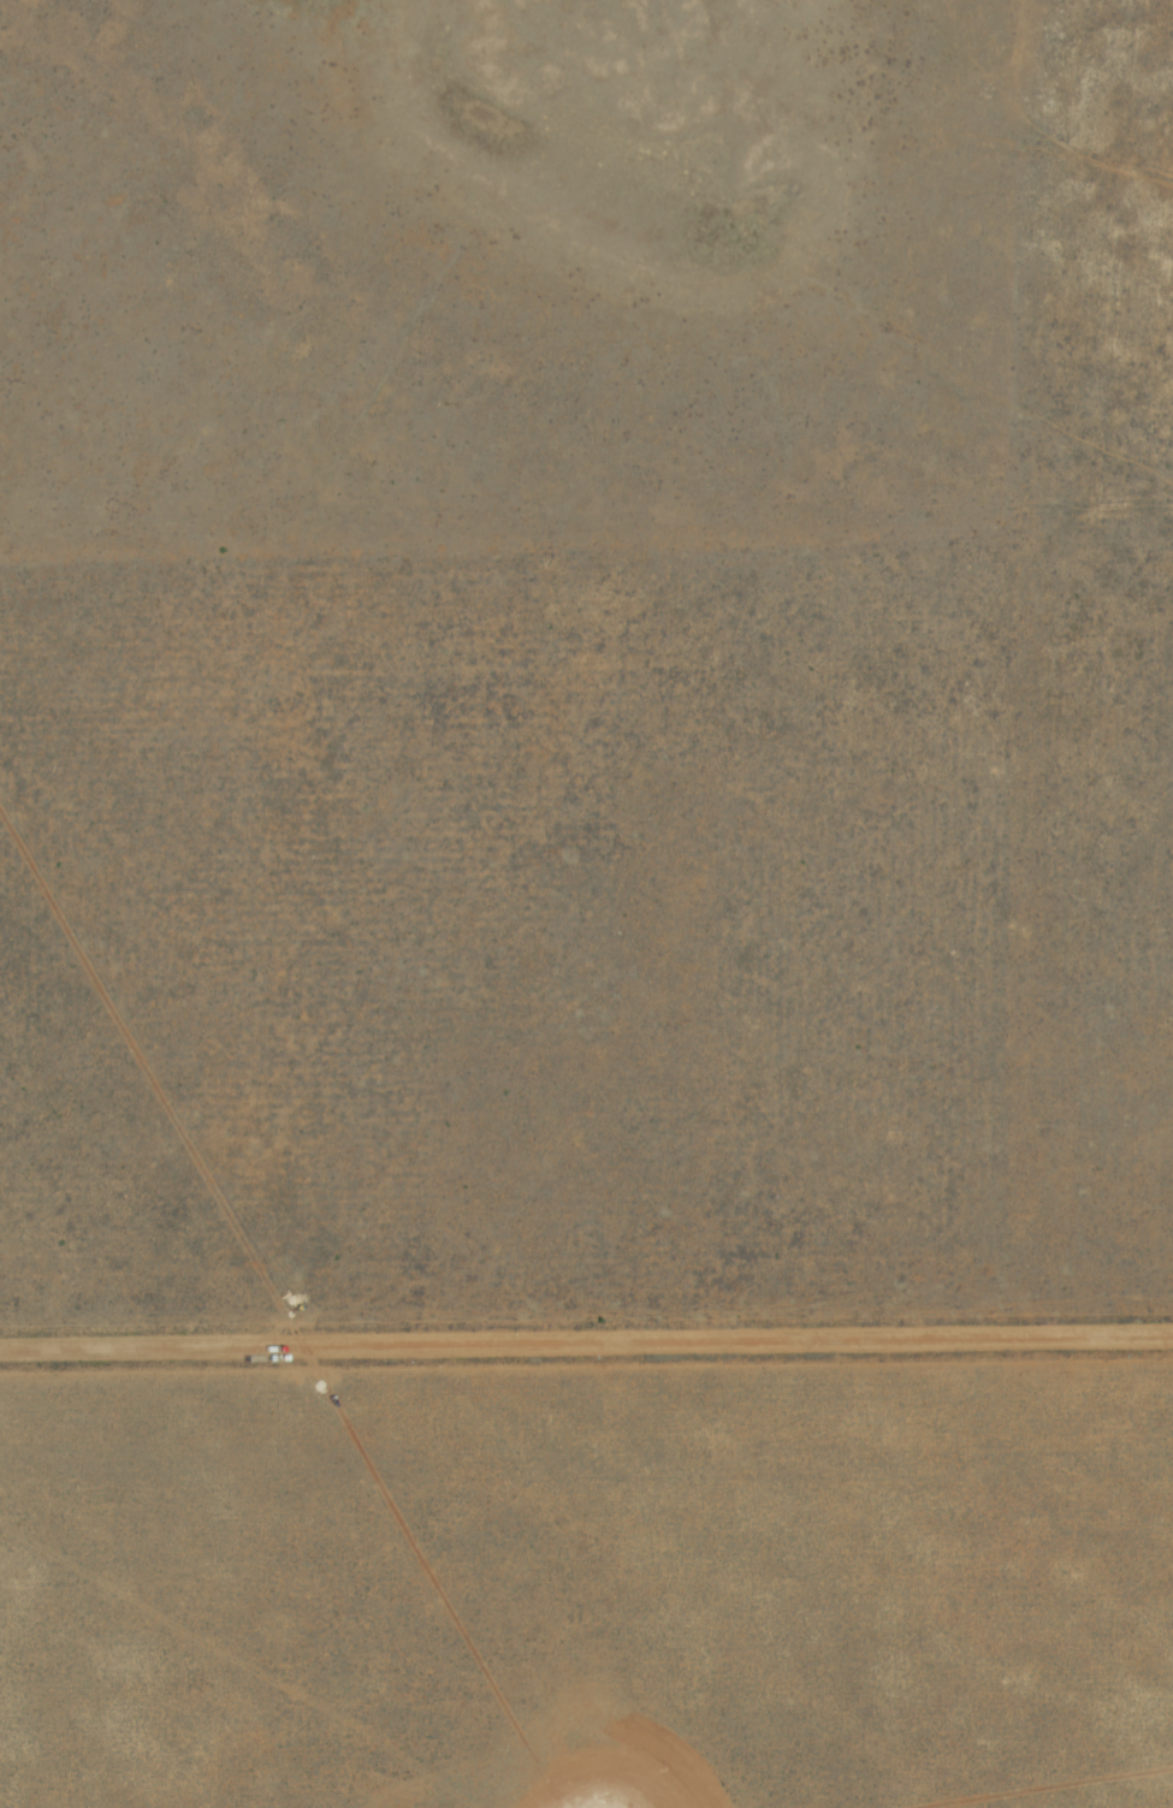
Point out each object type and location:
road: (586, 1348)

